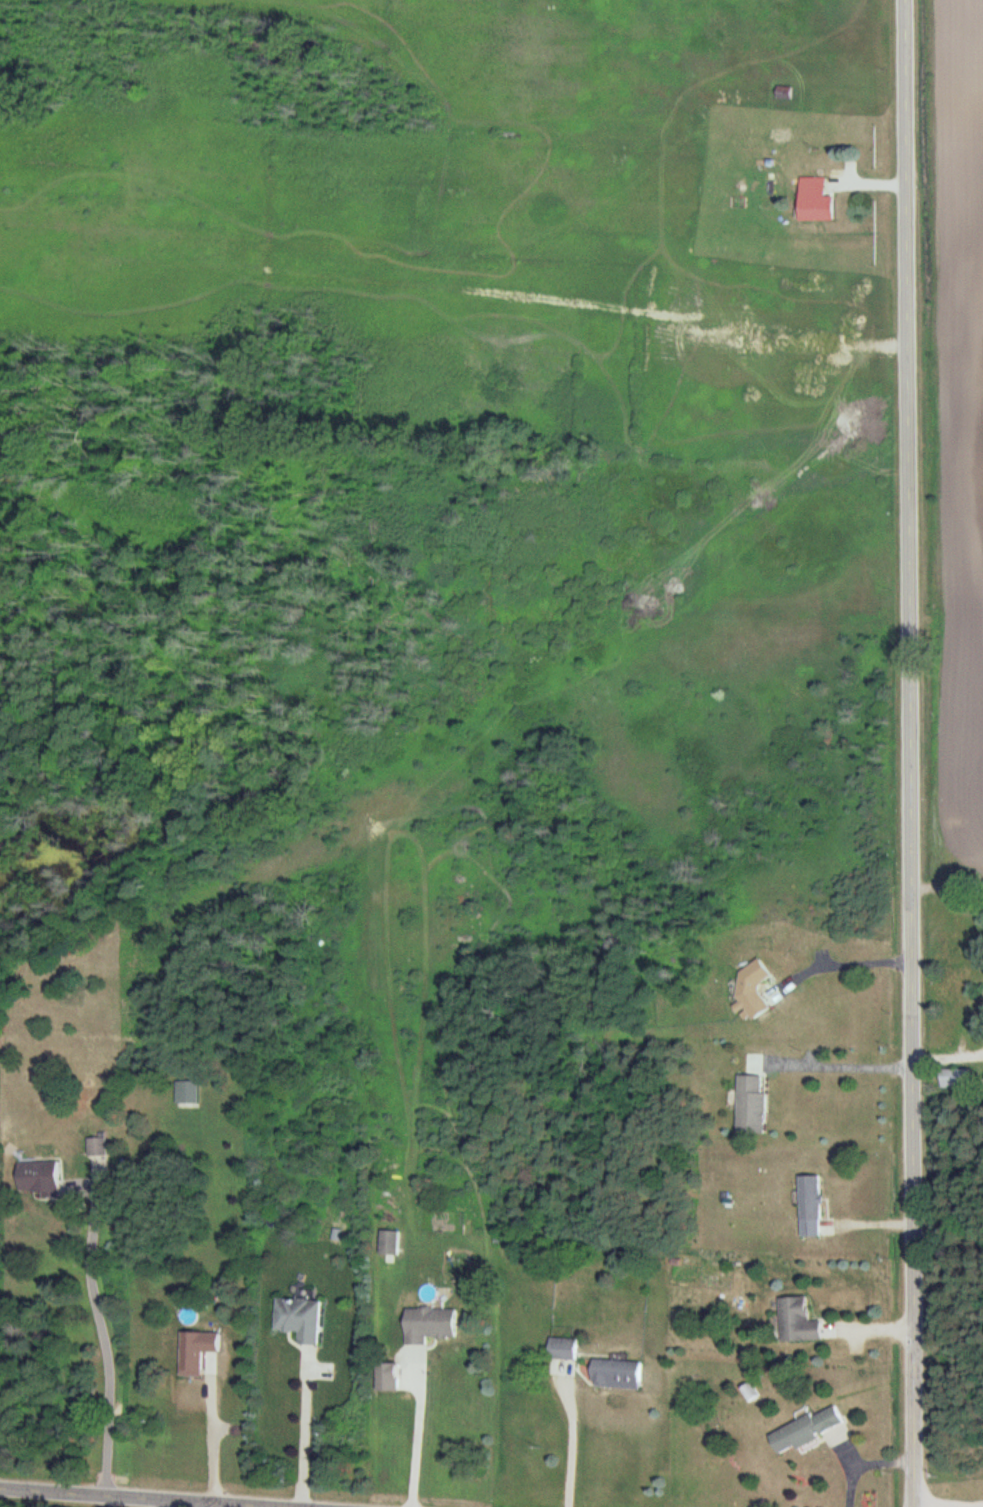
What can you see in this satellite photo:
building: (816, 200)
road: (907, 753)
road: (845, 962)
building: (751, 988)
building: (972, 1009)
road: (947, 1058)
road: (842, 1065)
building: (956, 1078)
building: (187, 1093)
building: (751, 1105)
building: (96, 1147)
building: (38, 1178)
building: (810, 1207)
building: (389, 1243)
park: (948, 1292)
building: (299, 1320)
building: (797, 1321)
building: (429, 1325)
road: (117, 1338)
building: (562, 1349)
building: (616, 1374)
building: (751, 1391)
road: (224, 1430)
building: (806, 1431)
road: (306, 1432)
road: (417, 1434)
road: (572, 1445)
road: (150, 1497)
road: (173, 1503)

